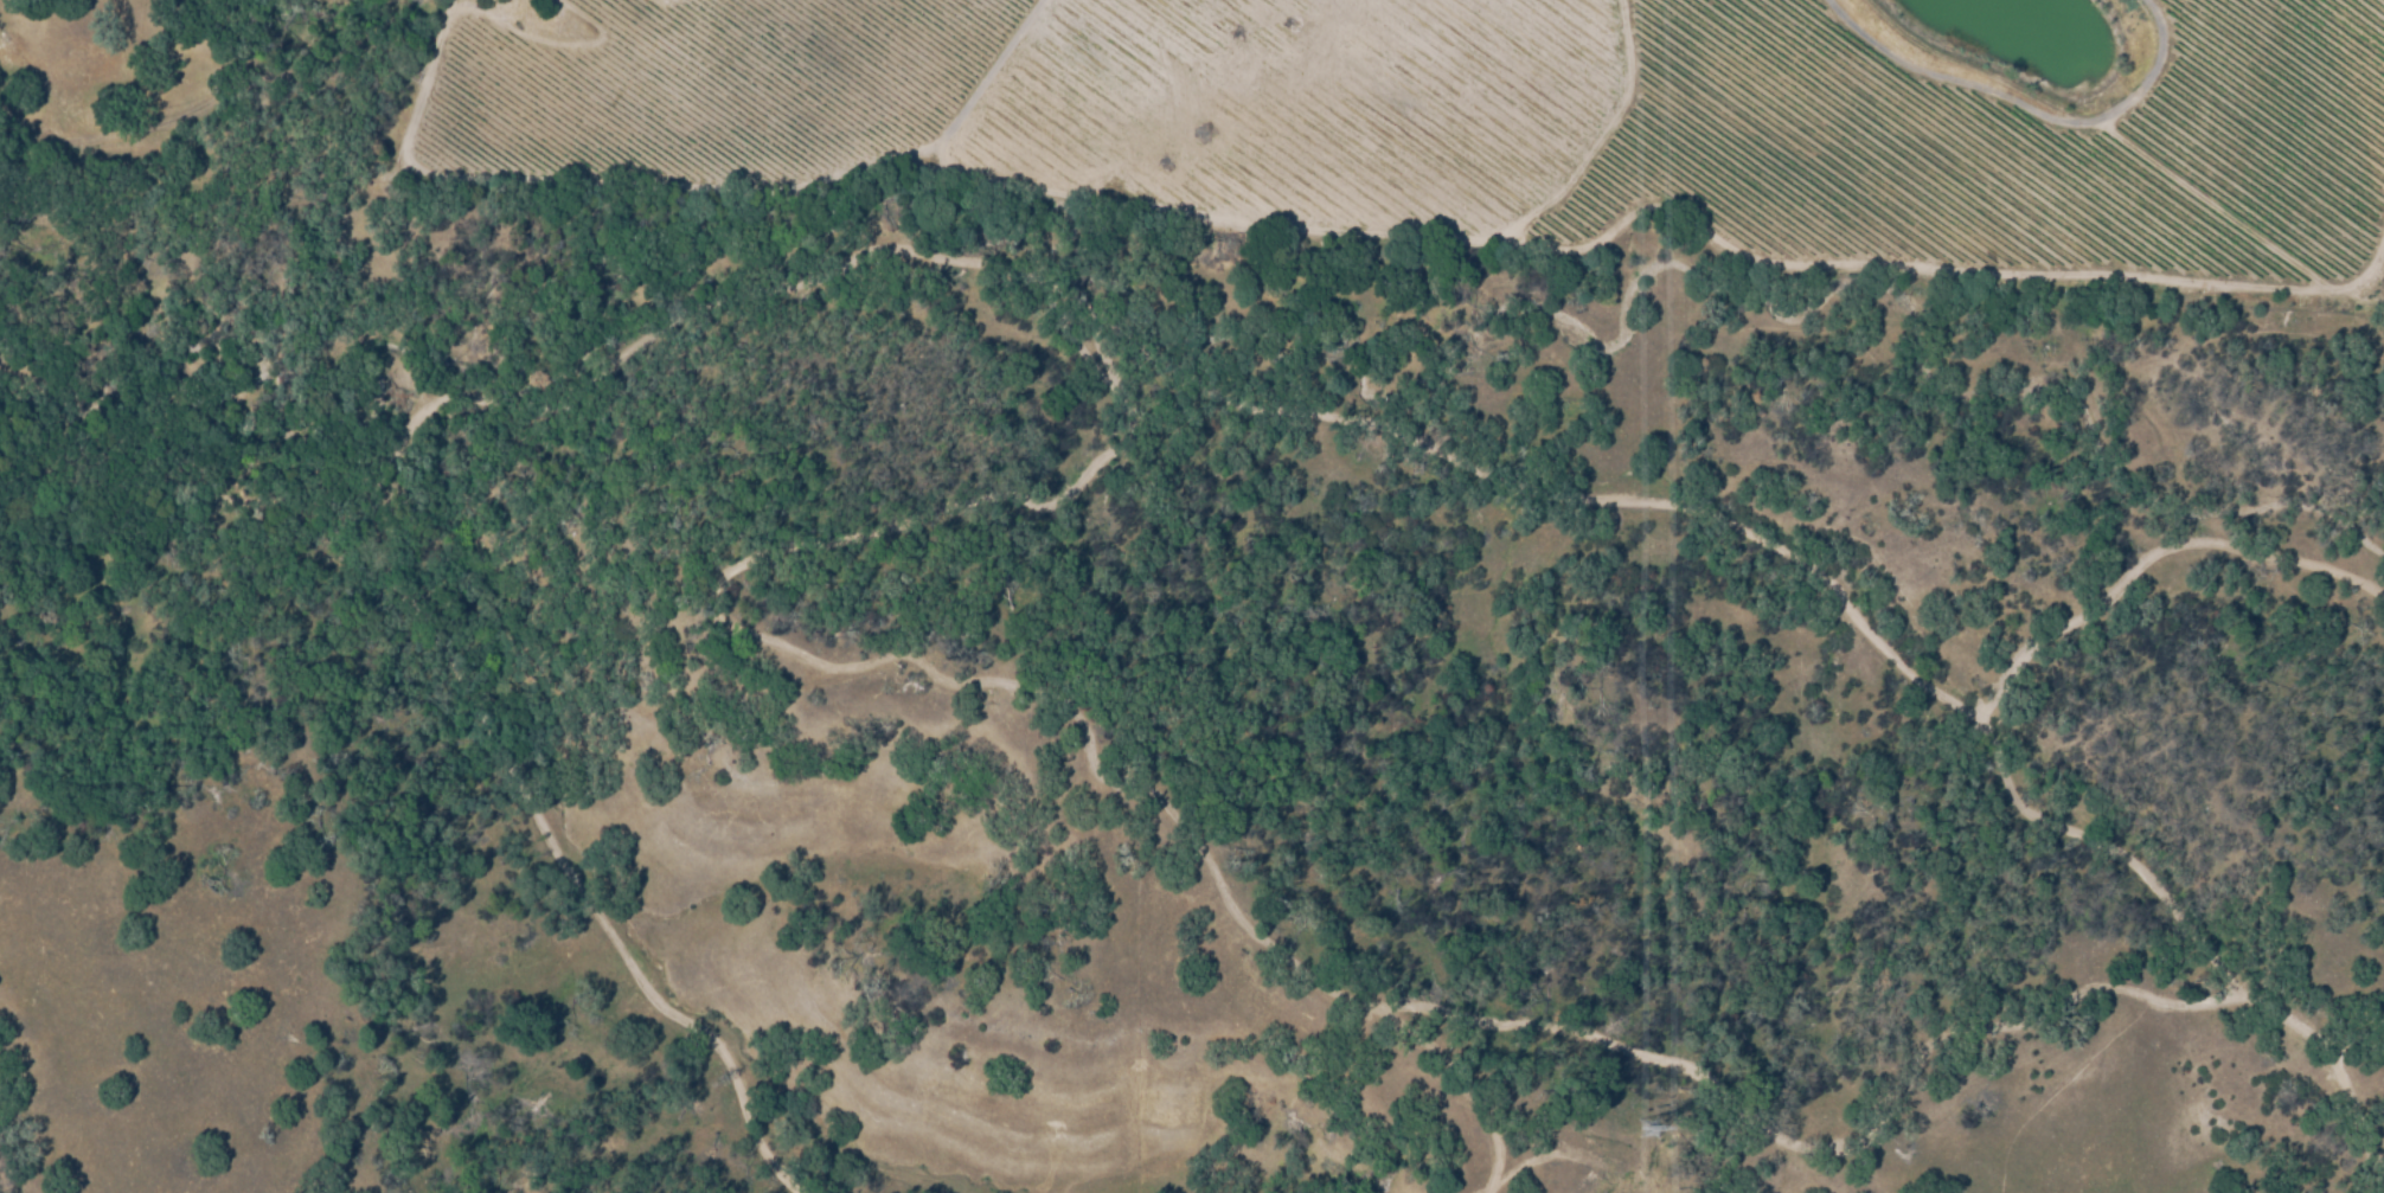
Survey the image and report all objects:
power tower: (1662, 1129)

